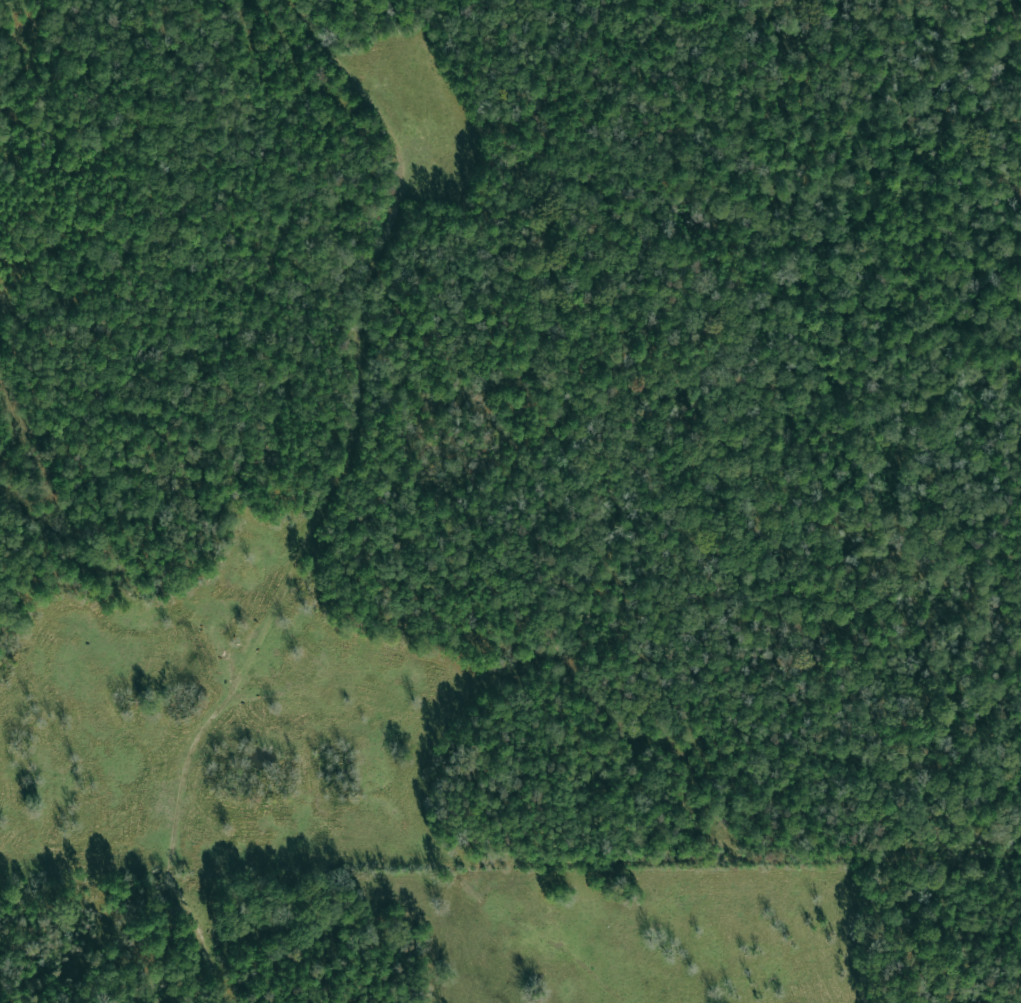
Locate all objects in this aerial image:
road: (335, 499)

